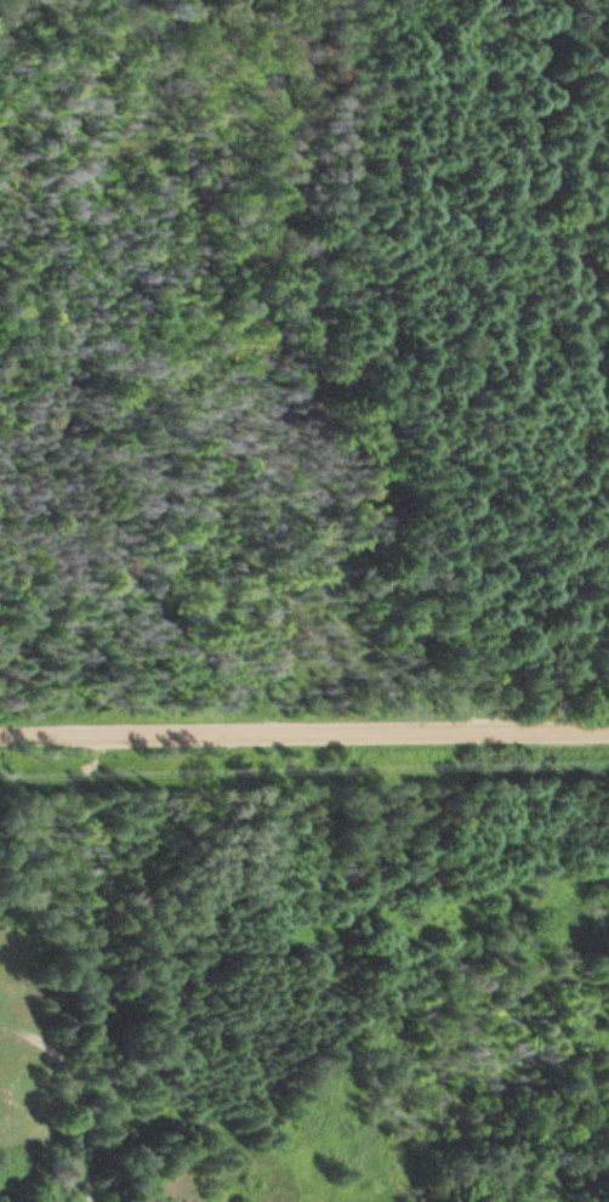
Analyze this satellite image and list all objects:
road: (304, 741)

